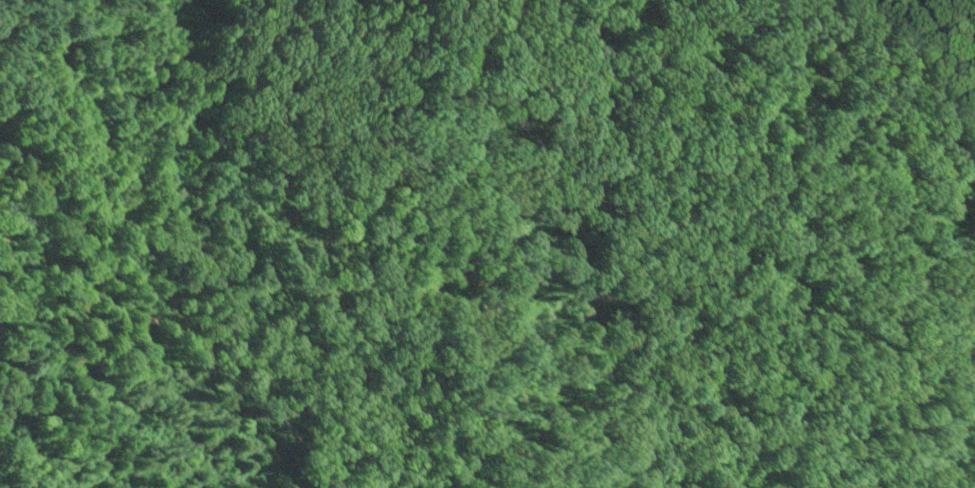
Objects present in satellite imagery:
road: (16, 98)
road: (160, 235)
road: (100, 326)
road: (927, 475)

